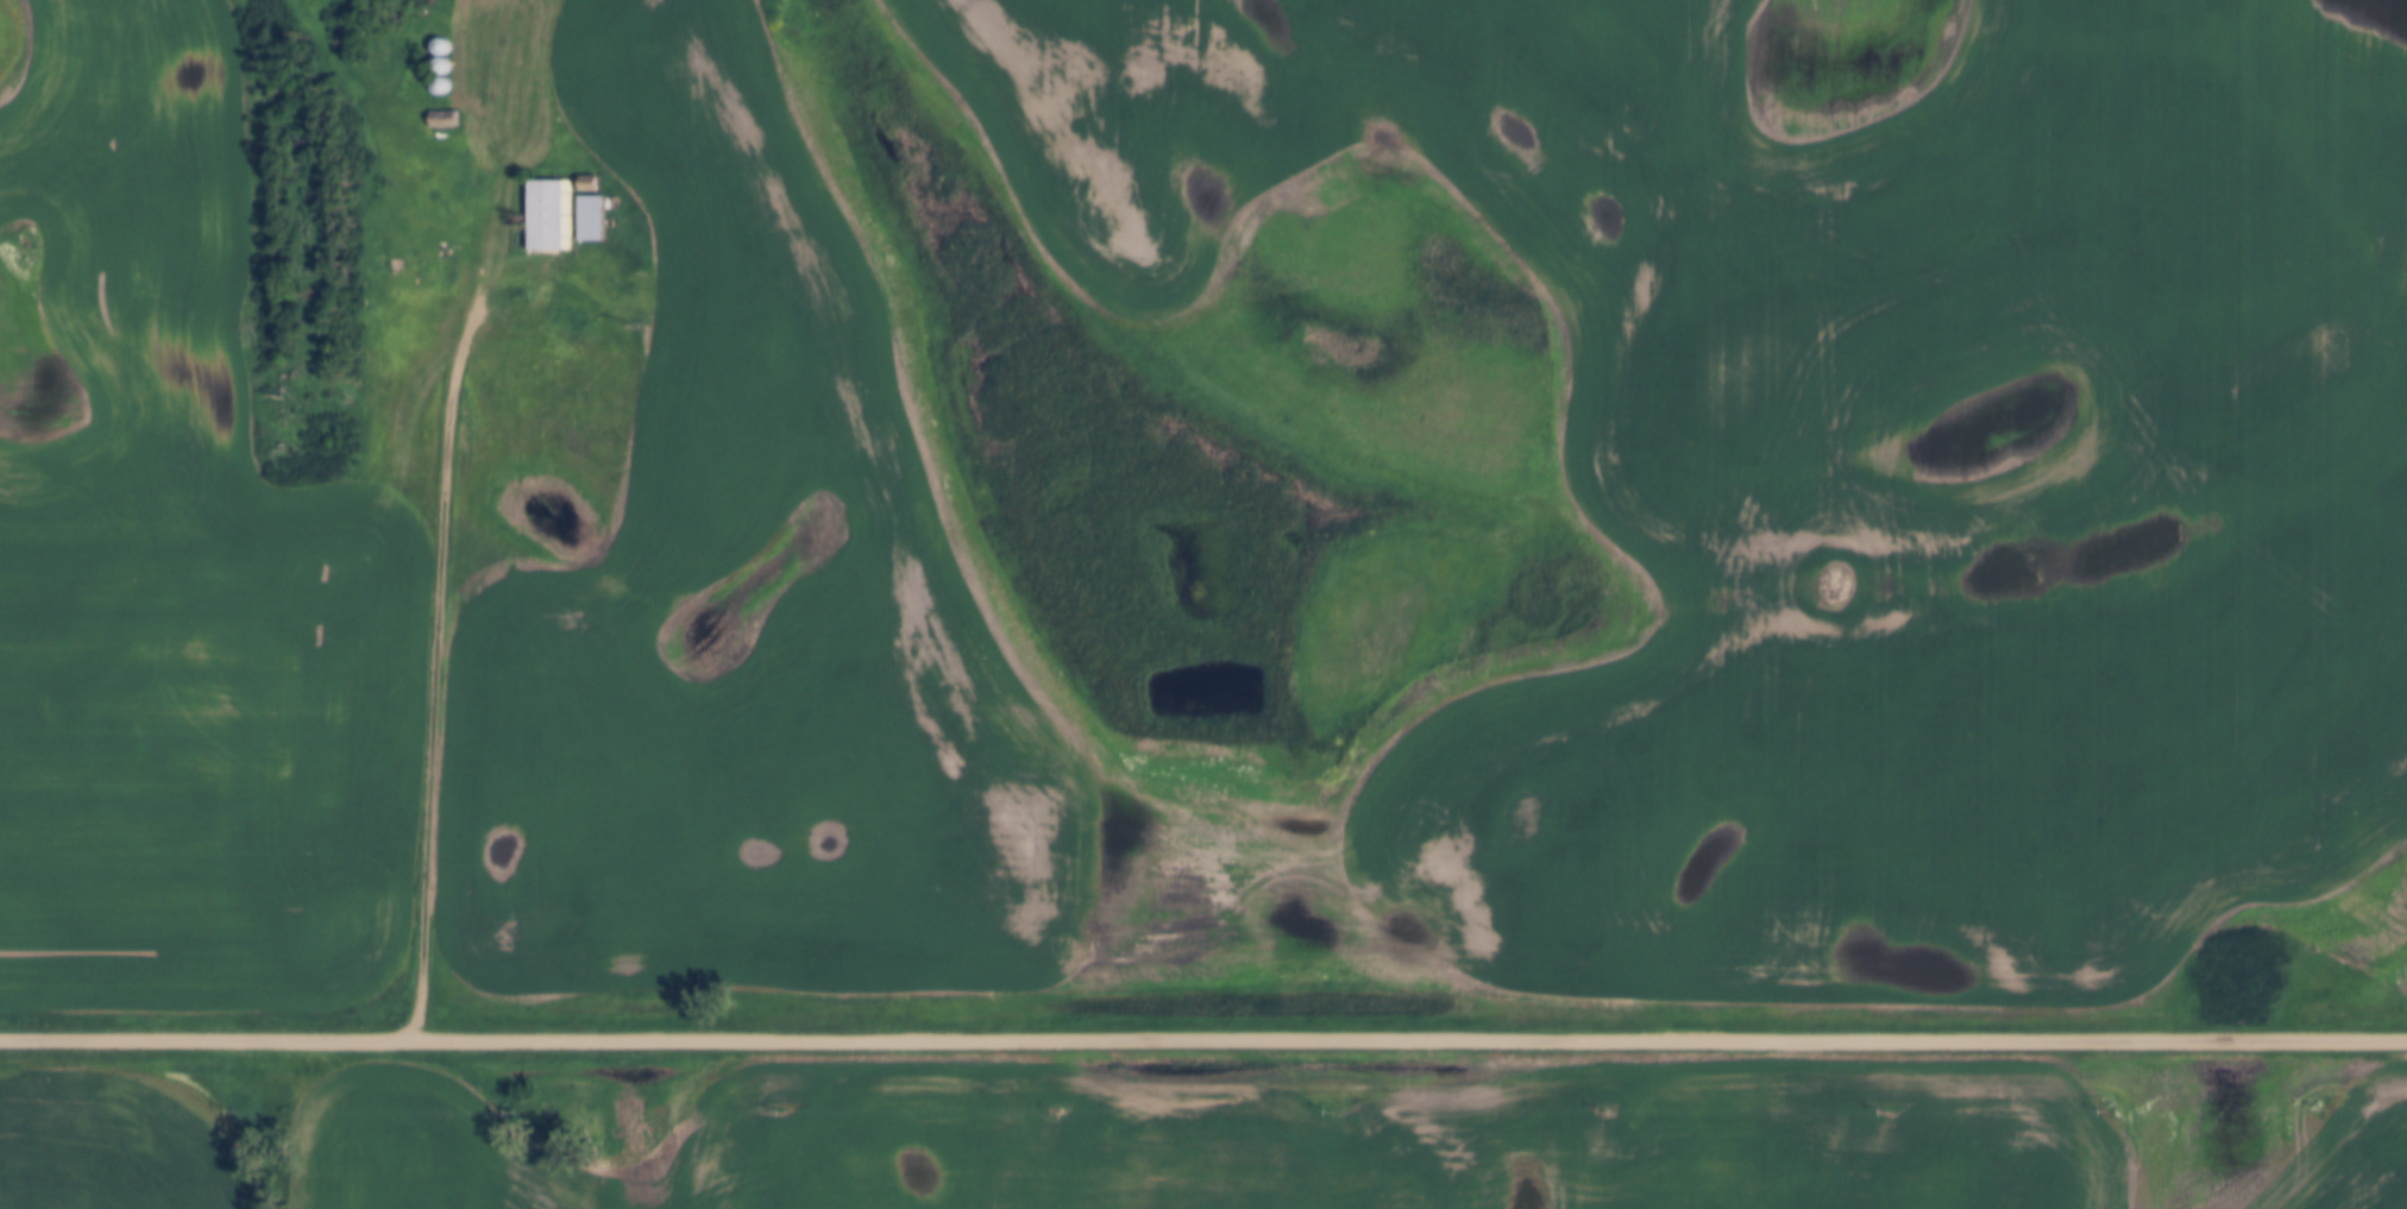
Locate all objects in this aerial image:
building: (447, 120)
building: (592, 184)
building: (552, 216)
building: (595, 218)
road: (441, 598)
road: (1202, 1039)

